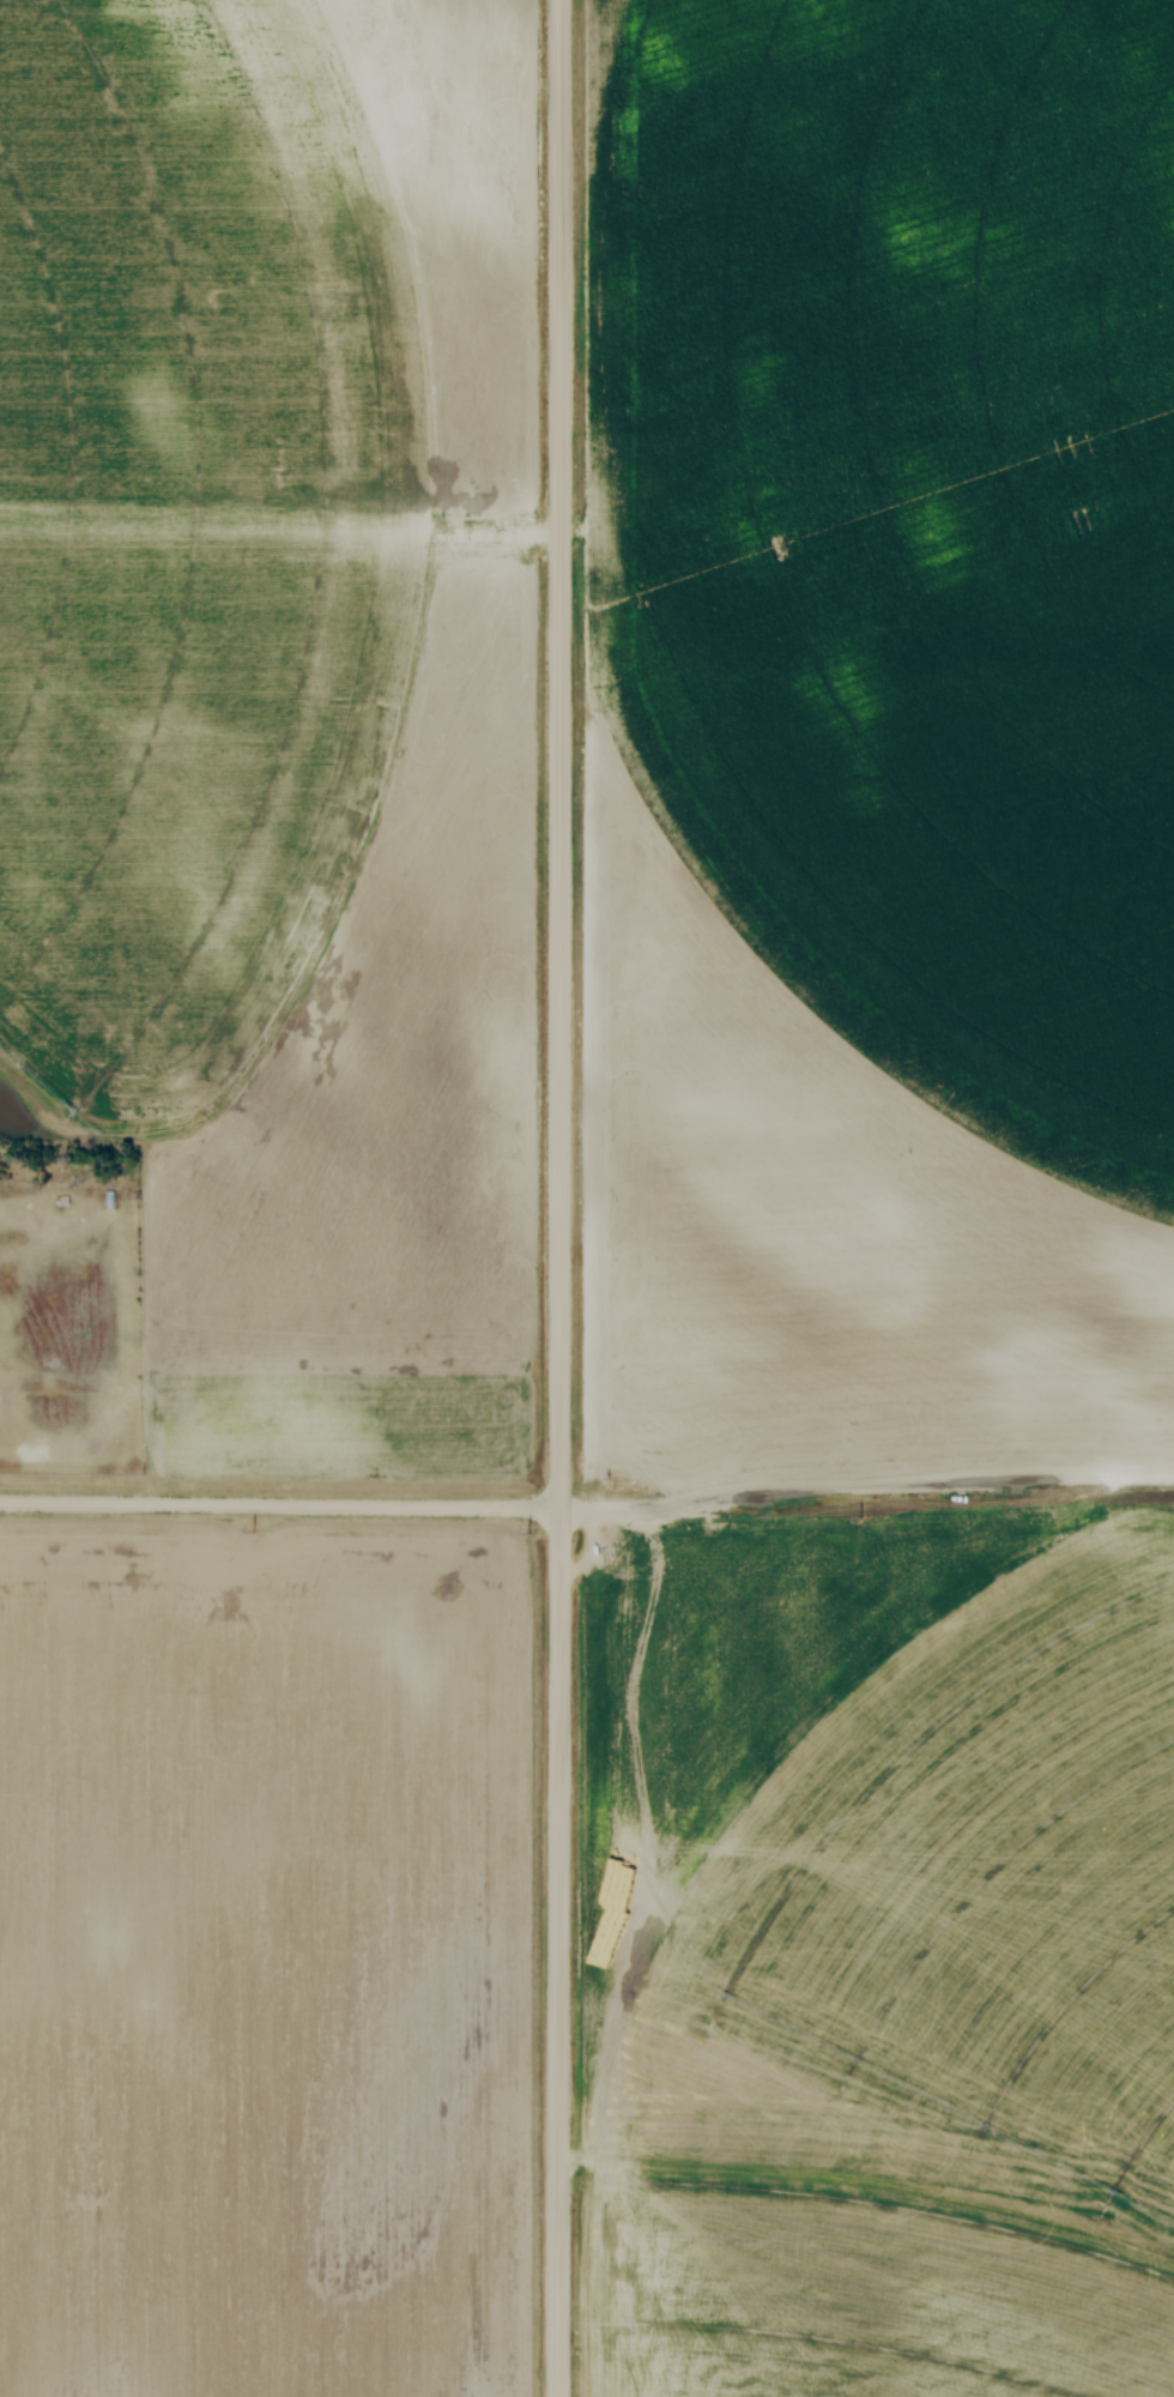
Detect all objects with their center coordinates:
crop: (283, 699)
crop: (873, 739)
road: (557, 1198)
road: (279, 1505)
crop: (886, 1957)
crop: (272, 1961)

